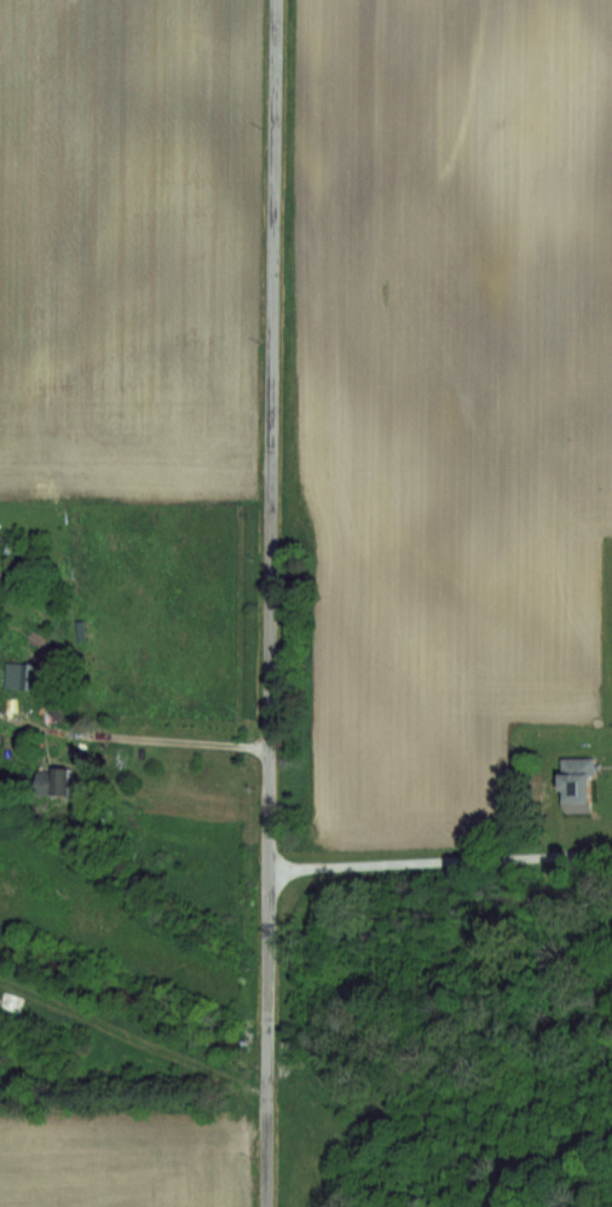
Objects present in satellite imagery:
building: (15, 551)
road: (265, 603)
building: (21, 676)
road: (162, 738)
building: (52, 783)
building: (576, 784)
road: (438, 858)

